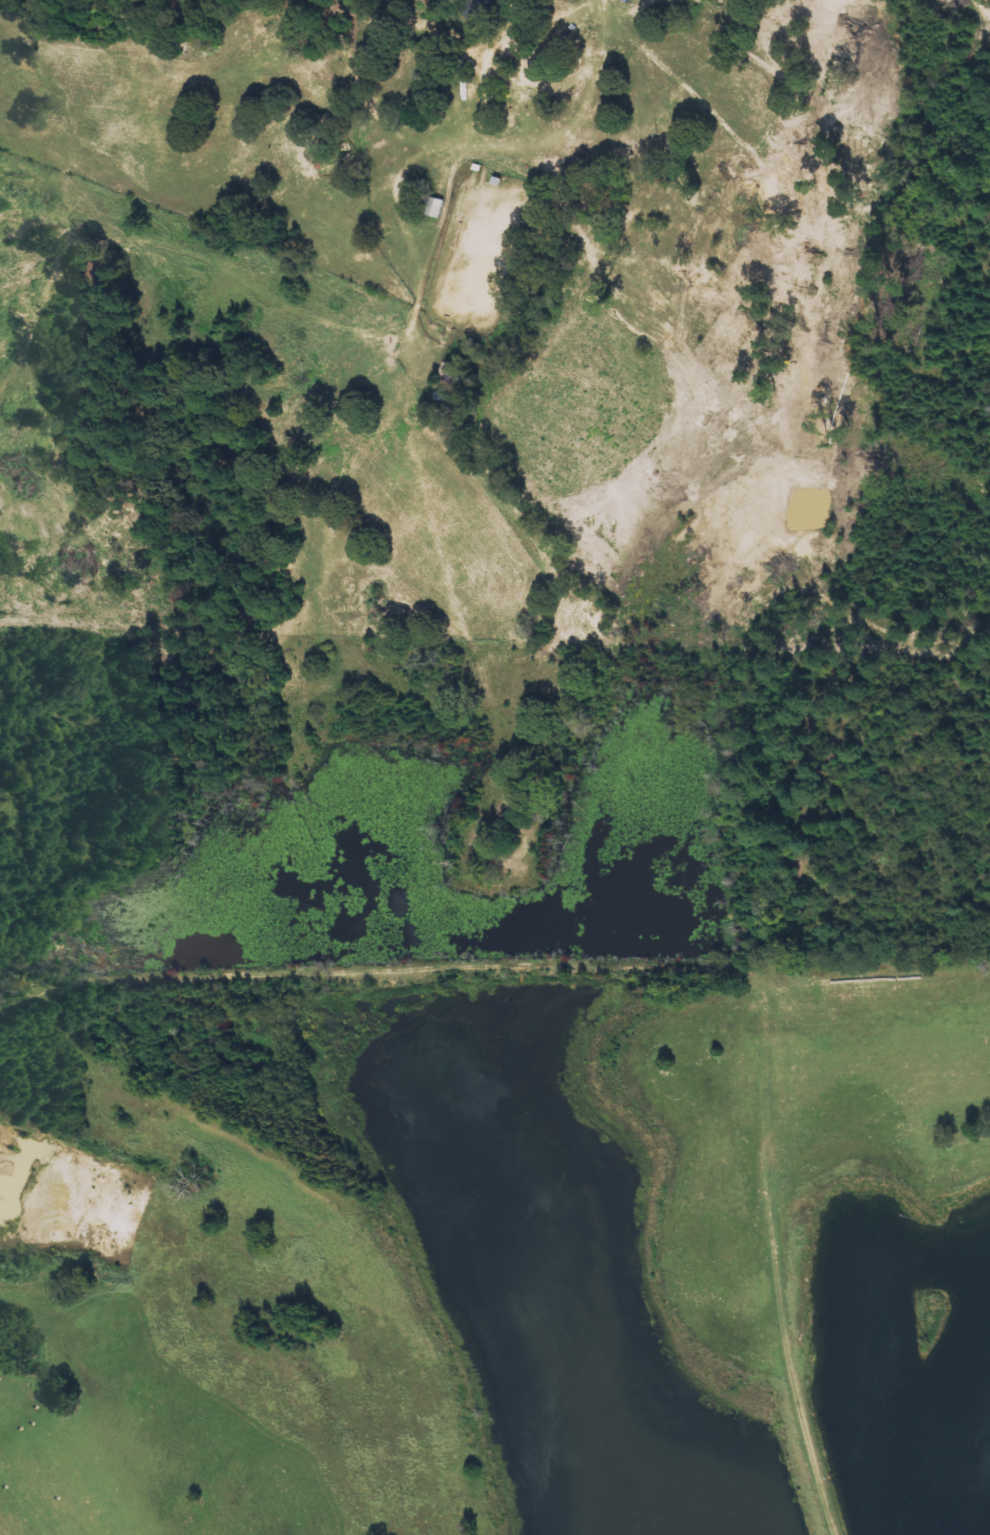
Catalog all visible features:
building: (435, 208)

